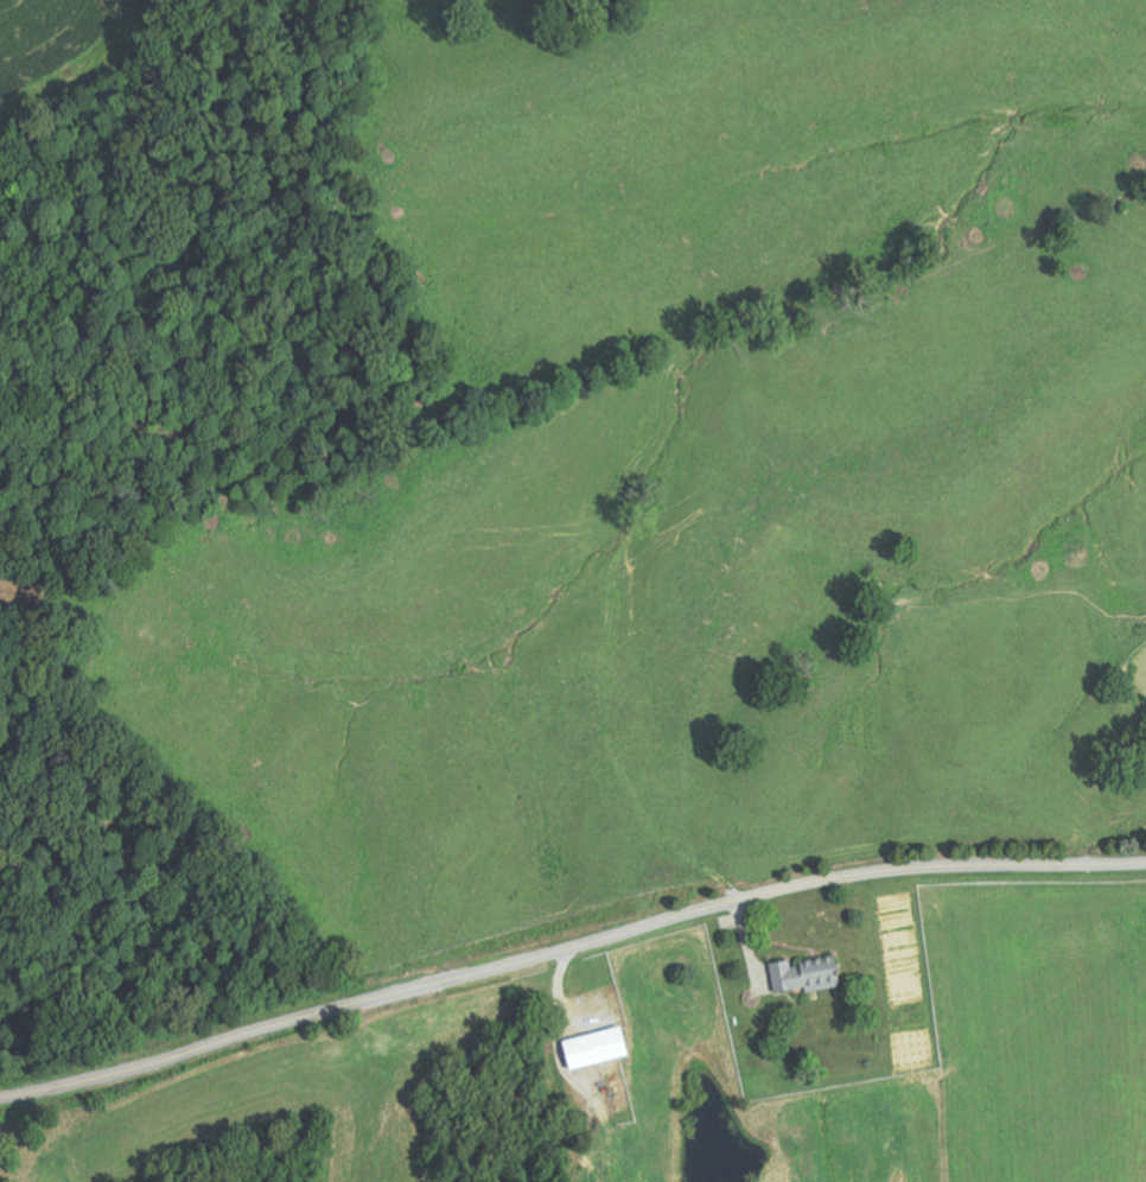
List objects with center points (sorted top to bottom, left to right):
road: (568, 951)
building: (806, 976)
building: (594, 1048)

